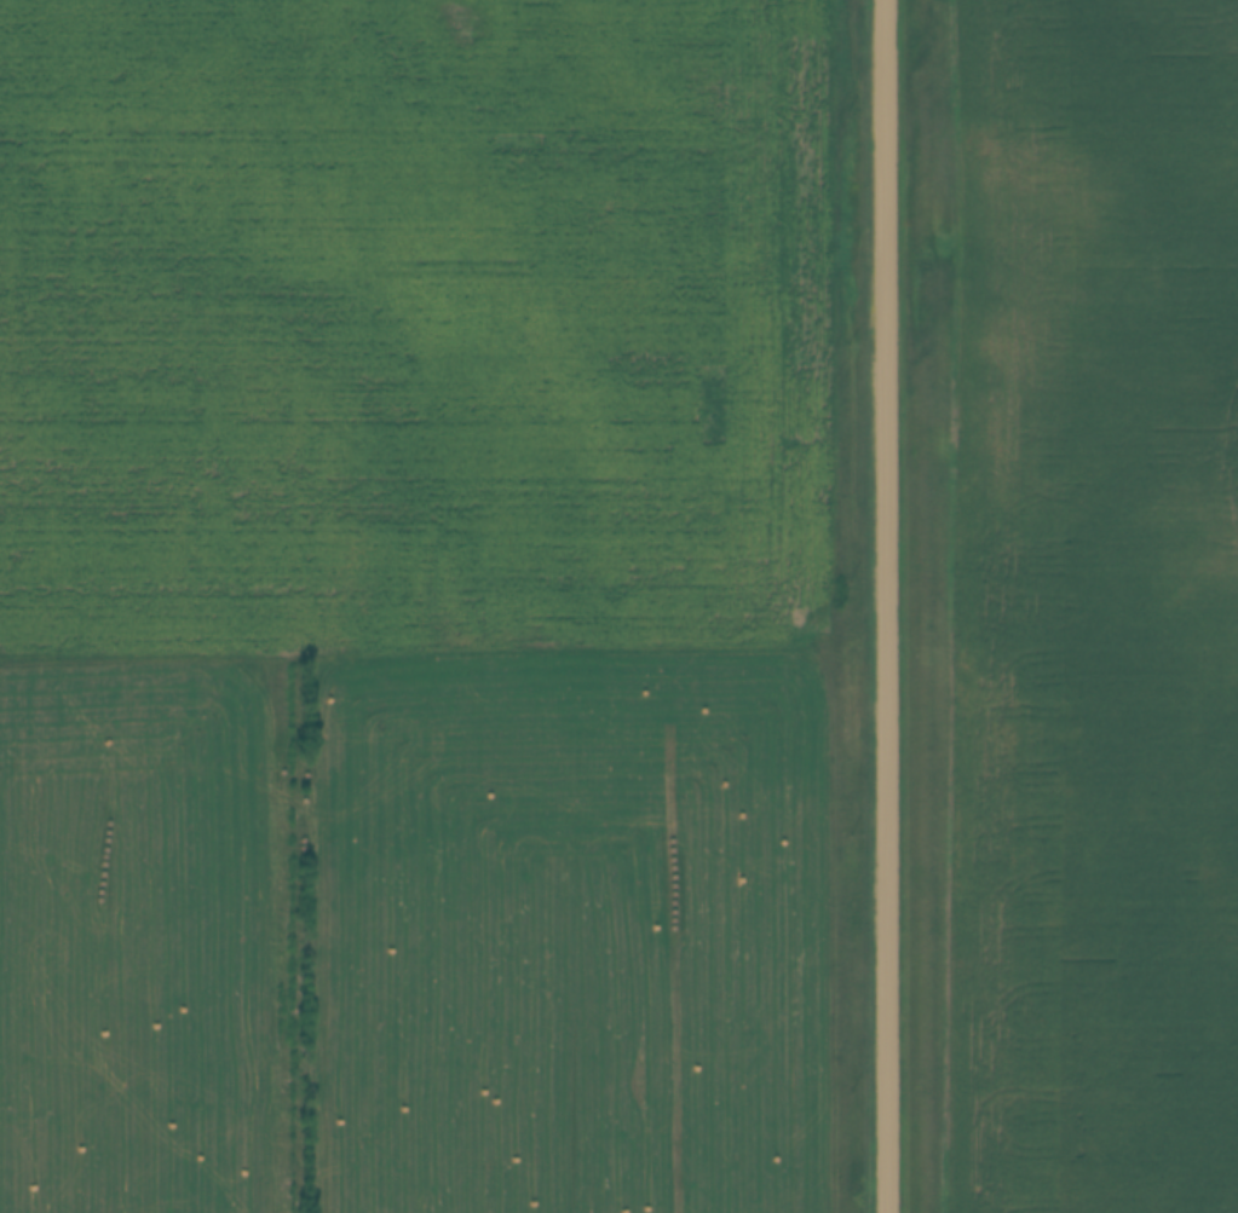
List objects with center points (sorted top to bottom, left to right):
road: (881, 606)

